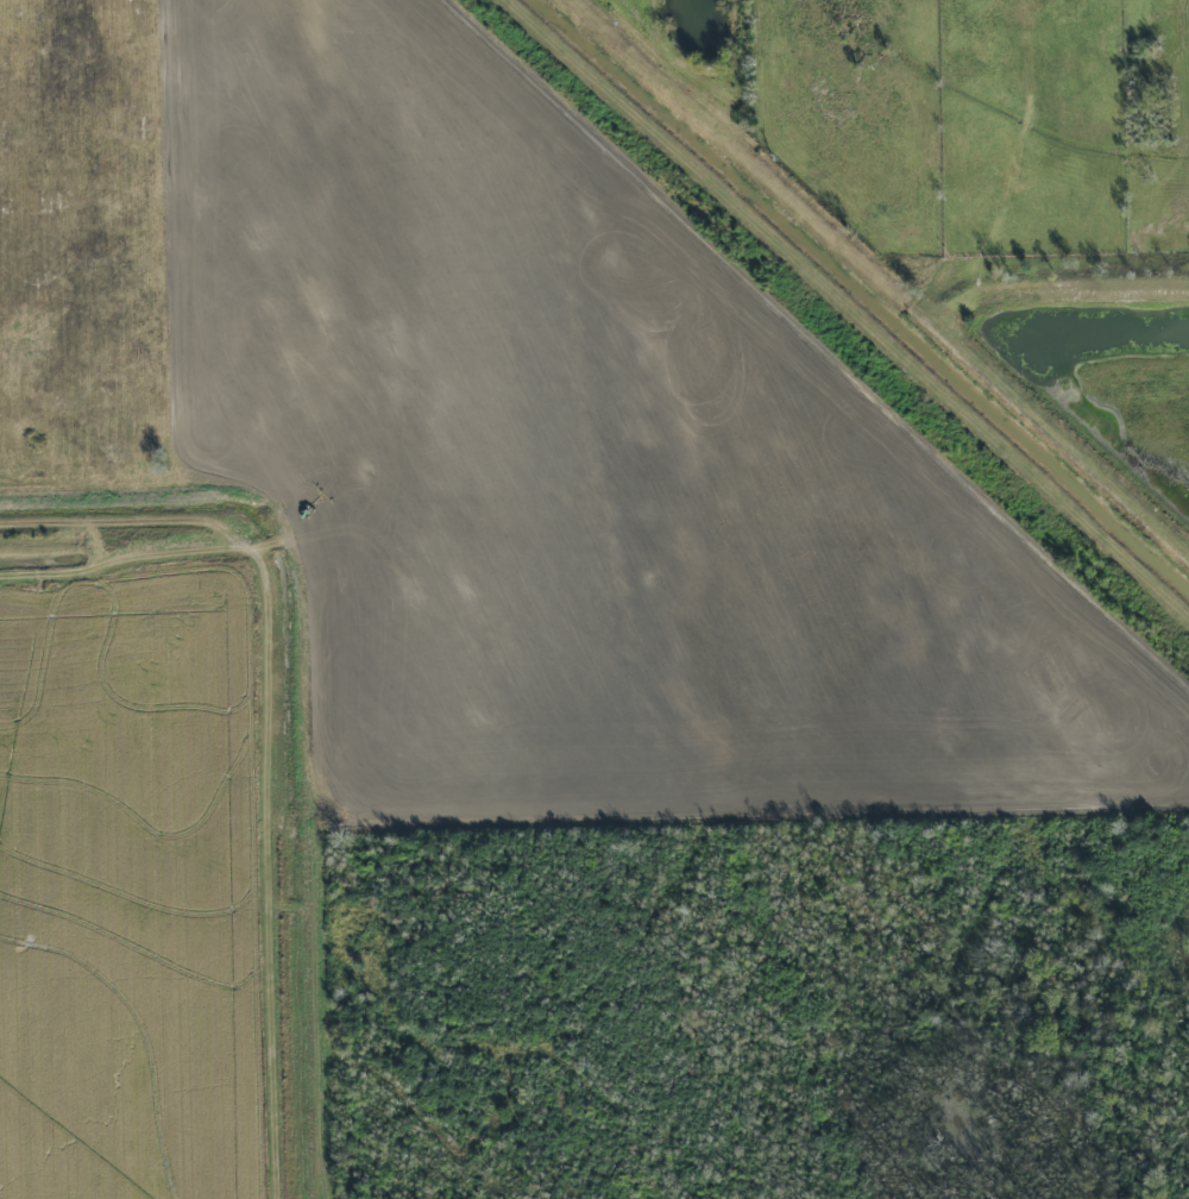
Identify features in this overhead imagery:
road: (882, 276)
road: (850, 306)

